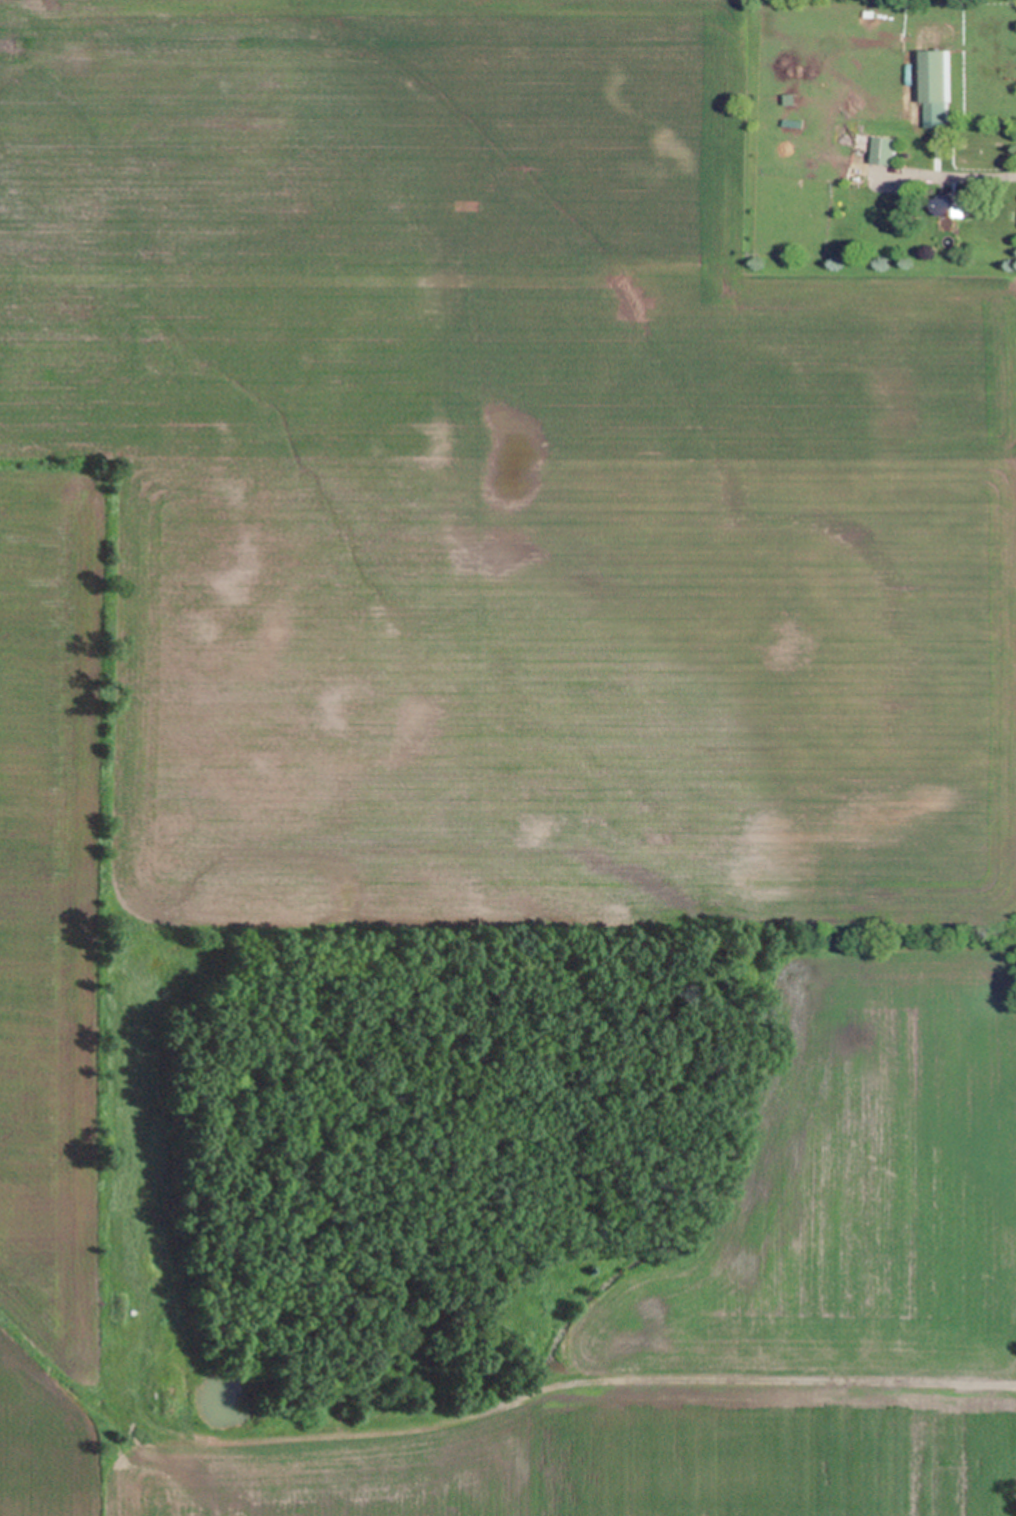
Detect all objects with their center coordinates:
building: (870, 11)
building: (909, 24)
building: (936, 86)
building: (791, 97)
building: (792, 121)
building: (886, 149)
road: (944, 176)
building: (955, 203)
building: (947, 221)
building: (947, 240)
building: (117, 1145)
building: (155, 1395)
building: (168, 1396)

